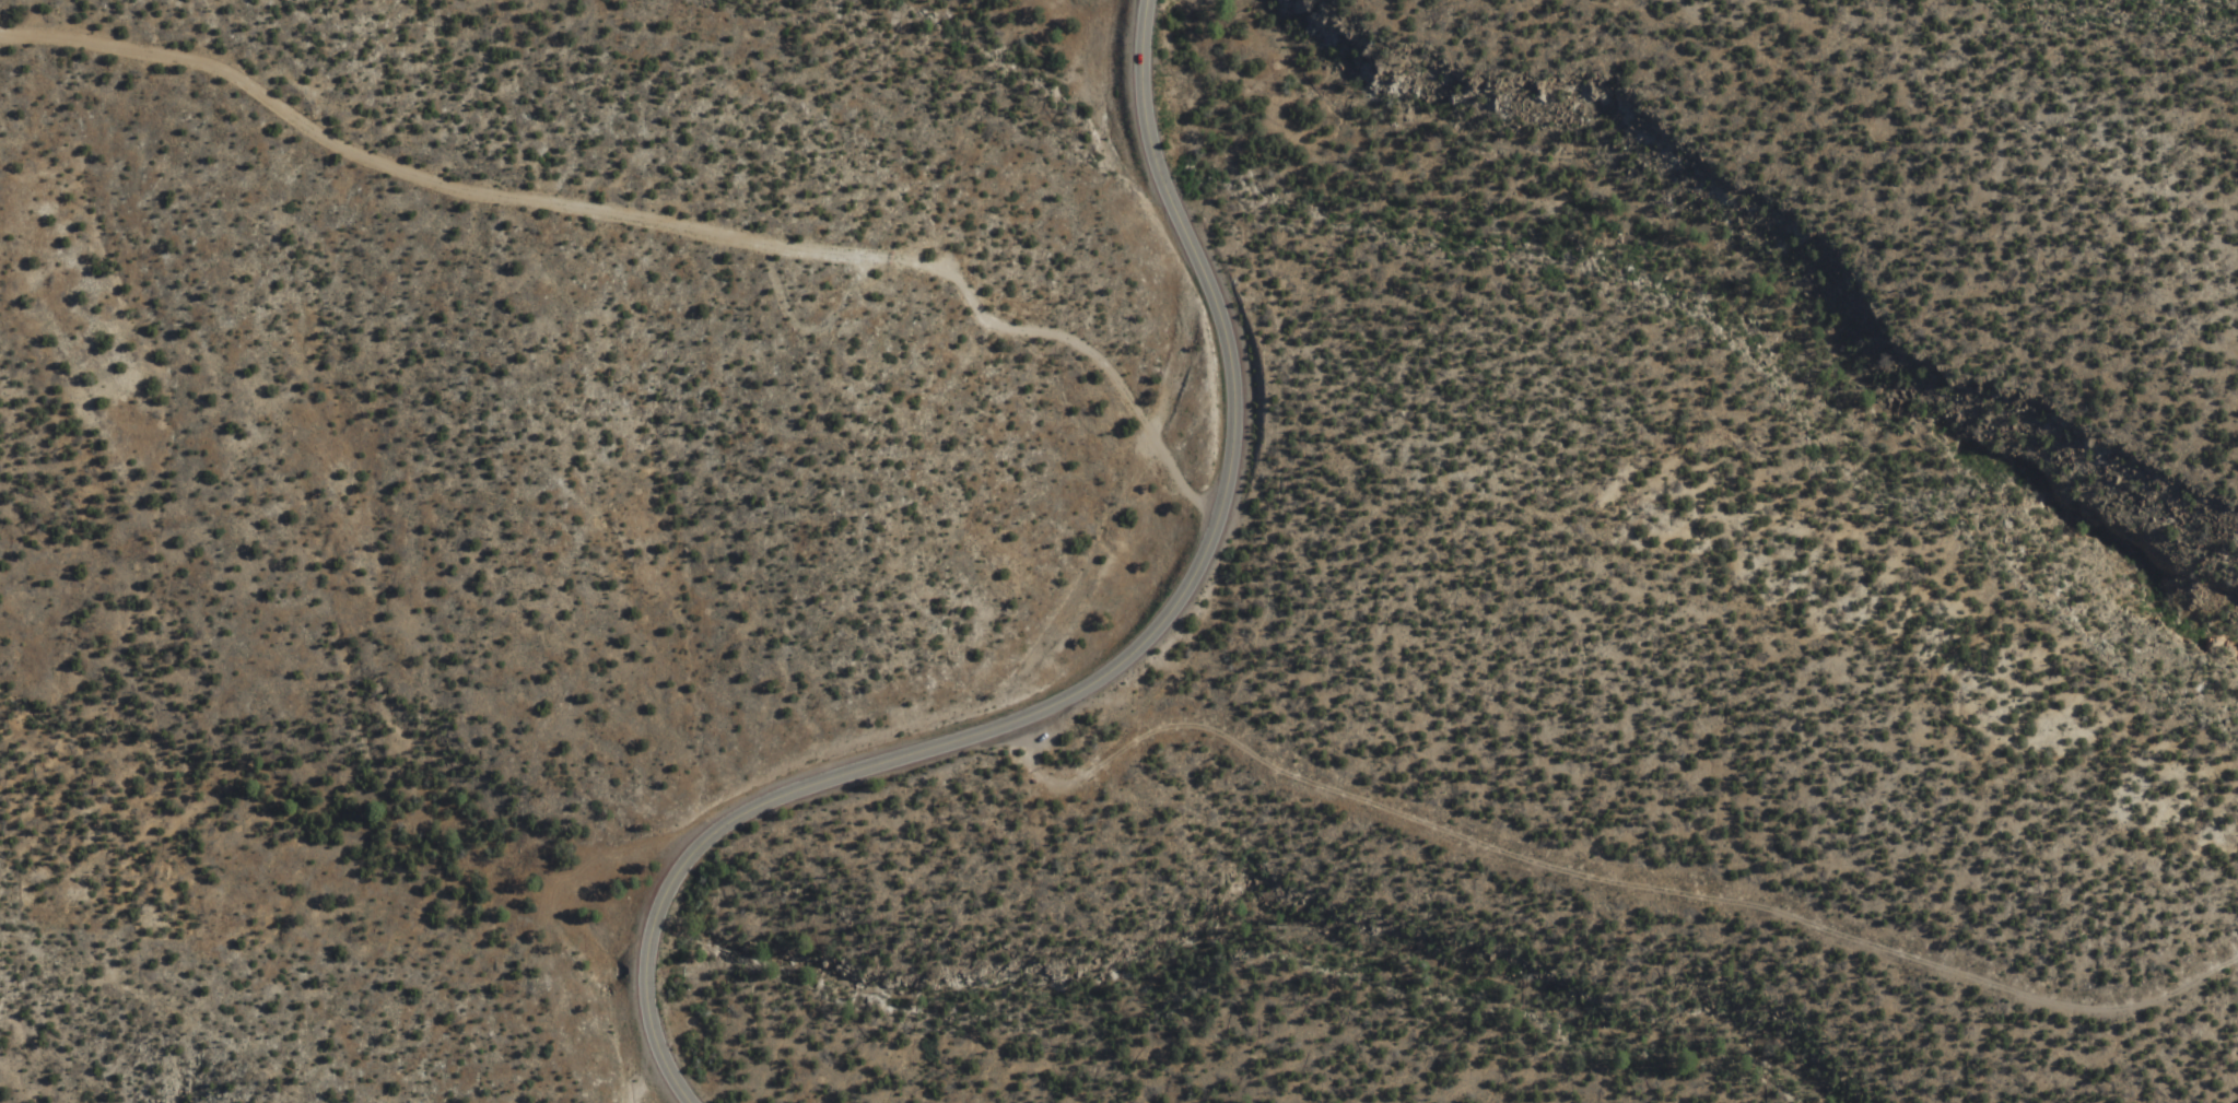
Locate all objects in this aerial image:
road: (641, 221)
road: (1106, 672)
road: (1600, 879)

